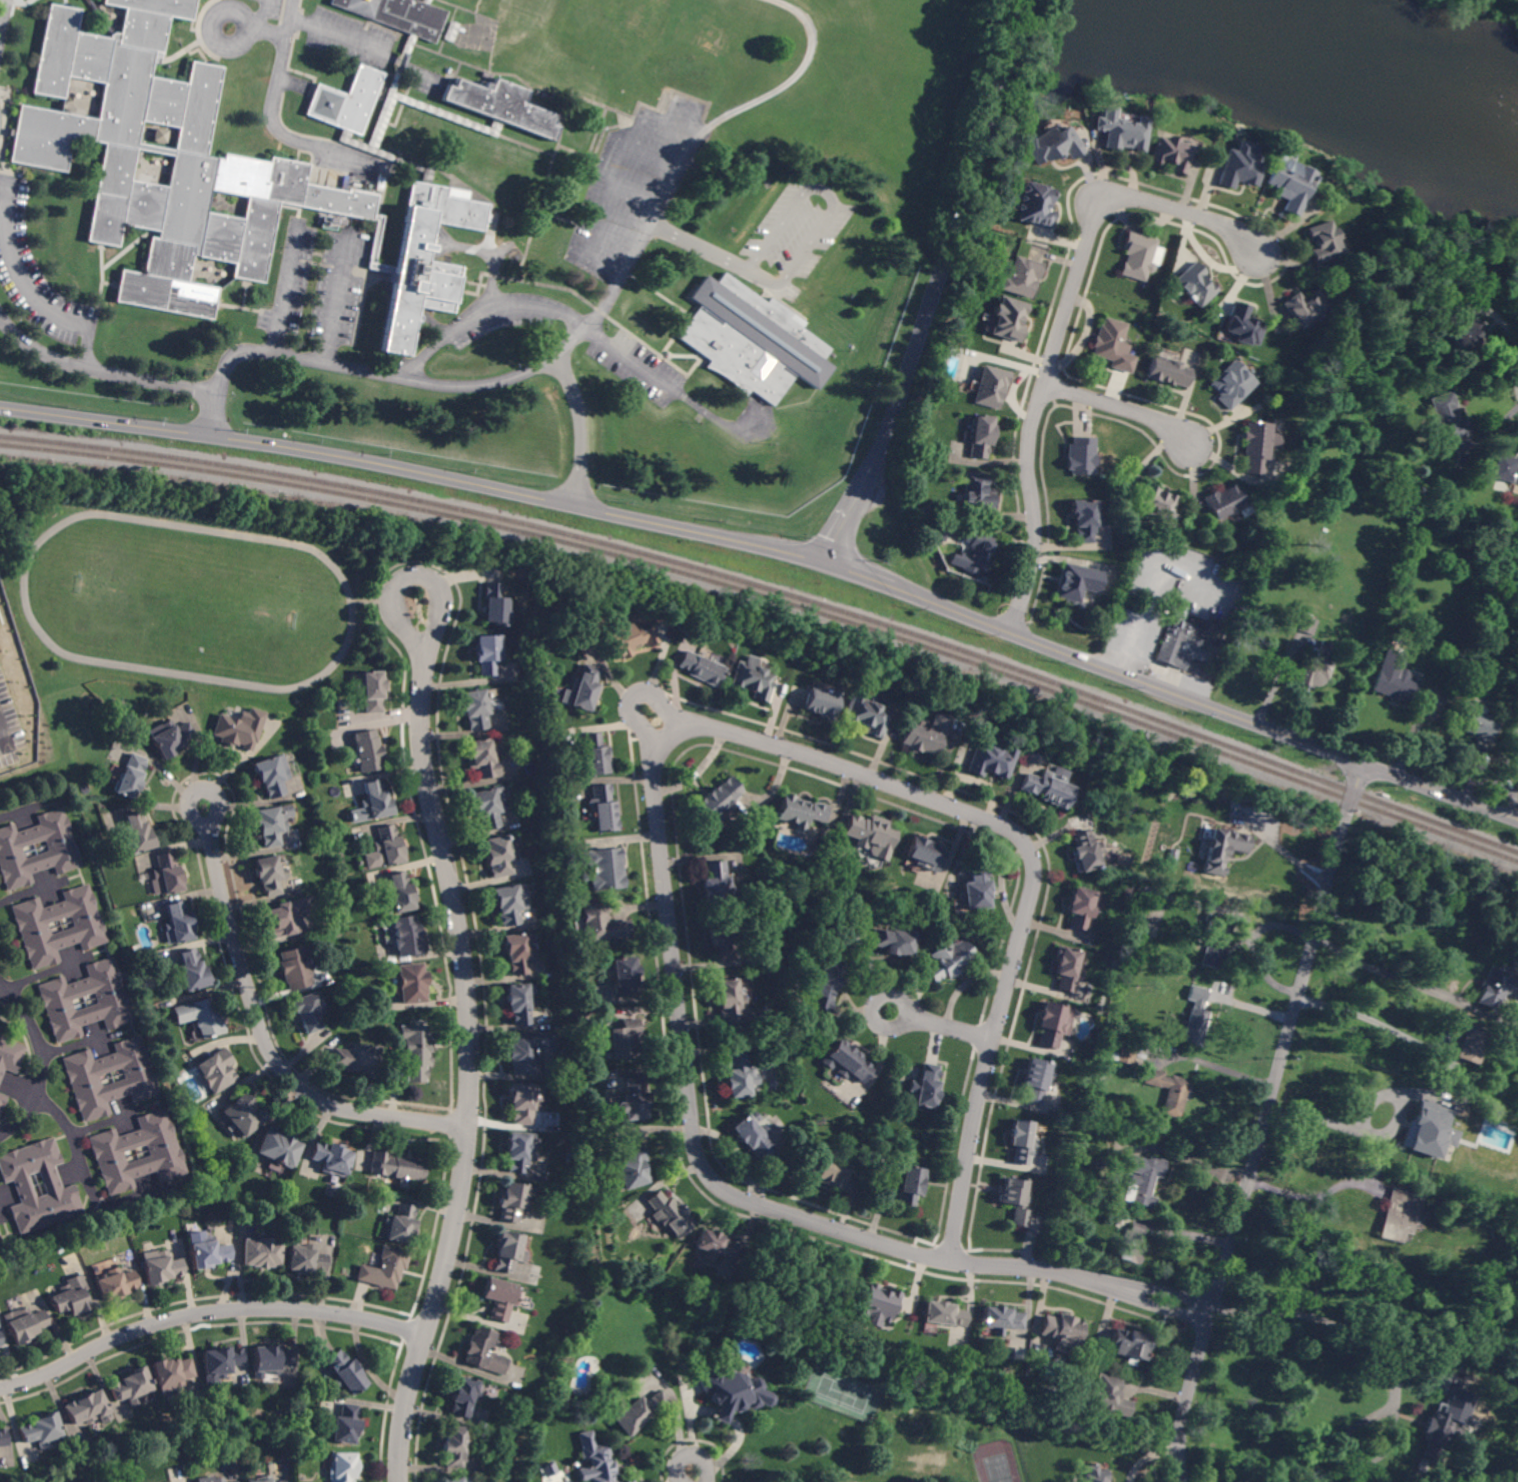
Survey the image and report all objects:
road: (1, 10)
parking lot: (4, 21)
road: (286, 26)
building: (450, 31)
road: (327, 33)
road: (277, 49)
road: (632, 131)
building: (1121, 131)
building: (158, 134)
building: (1052, 145)
building: (1171, 154)
building: (241, 158)
building: (1239, 165)
building: (1289, 185)
parking lot: (634, 189)
road: (815, 190)
building: (1037, 205)
road: (653, 224)
parking lot: (794, 232)
building: (1323, 241)
building: (1516, 245)
building: (1137, 257)
parking lot: (35, 277)
building: (1022, 277)
road: (934, 281)
parking lot: (316, 283)
building: (1194, 284)
road: (281, 290)
road: (333, 299)
building: (1305, 307)
road: (481, 313)
building: (1008, 319)
building: (1244, 326)
road: (75, 328)
road: (1059, 334)
building: (1470, 336)
building: (752, 340)
building: (1113, 345)
road: (36, 351)
building: (1168, 371)
road: (475, 384)
building: (1231, 385)
building: (990, 386)
road: (1123, 406)
building: (1447, 417)
road: (576, 425)
building: (980, 436)
building: (1257, 446)
building: (1080, 456)
building: (1505, 468)
building: (978, 493)
building: (1226, 502)
building: (1157, 504)
building: (1085, 519)
road: (696, 531)
building: (936, 535)
building: (972, 554)
building: (1078, 583)
railway: (773, 590)
railway: (773, 598)
building: (496, 602)
building: (1312, 612)
building: (1170, 617)
building: (1306, 625)
building: (627, 640)
building: (1180, 647)
building: (488, 653)
building: (1417, 665)
building: (700, 668)
building: (1316, 668)
building: (752, 678)
building: (1394, 678)
building: (583, 687)
building: (372, 691)
road: (634, 695)
building: (823, 702)
building: (475, 708)
building: (868, 714)
building: (1476, 722)
building: (239, 729)
road: (3, 733)
building: (926, 735)
building: (169, 737)
building: (1516, 749)
building: (368, 750)
building: (594, 755)
building: (482, 758)
building: (989, 760)
building: (271, 774)
building: (130, 776)
building: (1048, 789)
road: (1440, 792)
building: (375, 800)
building: (718, 800)
building: (489, 806)
building: (602, 808)
building: (800, 811)
road: (656, 812)
building: (268, 826)
building: (133, 834)
building: (870, 834)
building: (388, 846)
building: (61, 848)
building: (1226, 849)
building: (1086, 851)
road: (1286, 852)
building: (924, 853)
building: (499, 856)
building: (606, 868)
building: (166, 874)
building: (268, 874)
building: (583, 877)
building: (717, 885)
building: (976, 888)
road: (29, 892)
building: (399, 892)
building: (510, 903)
building: (1081, 908)
building: (288, 916)
building: (1153, 920)
building: (600, 922)
building: (176, 923)
building: (32, 925)
building: (406, 936)
building: (722, 938)
building: (1215, 939)
building: (894, 941)
building: (518, 953)
building: (949, 960)
building: (293, 968)
building: (1068, 969)
road: (1383, 970)
building: (189, 971)
building: (622, 974)
building: (824, 982)
building: (411, 983)
building: (1496, 988)
building: (62, 996)
building: (729, 1001)
building: (517, 1003)
building: (305, 1012)
building: (1071, 1013)
building: (199, 1017)
building: (1195, 1017)
road: (1370, 1021)
road: (942, 1024)
building: (1053, 1024)
road: (263, 1036)
building: (624, 1039)
road: (471, 1041)
building: (1465, 1041)
road: (75, 1046)
building: (414, 1051)
building: (529, 1051)
building: (1126, 1053)
building: (10, 1055)
building: (356, 1060)
road: (39, 1061)
building: (846, 1062)
road: (1215, 1068)
building: (215, 1070)
building: (738, 1076)
building: (84, 1077)
building: (1035, 1079)
building: (925, 1086)
road: (1343, 1088)
building: (1167, 1091)
building: (631, 1099)
building: (2, 1100)
building: (524, 1102)
building: (241, 1114)
road: (1263, 1121)
road: (104, 1122)
building: (1429, 1128)
building: (752, 1135)
road: (76, 1138)
building: (1021, 1141)
building: (1454, 1143)
building: (279, 1147)
building: (113, 1149)
building: (517, 1151)
building: (331, 1158)
building: (395, 1167)
building: (631, 1168)
building: (829, 1169)
building: (1142, 1177)
building: (52, 1186)
building: (910, 1186)
road: (1312, 1198)
building: (1014, 1199)
building: (515, 1200)
building: (669, 1214)
building: (1395, 1214)
building: (400, 1224)
building: (0, 1239)
building: (0, 1242)
building: (1129, 1245)
building: (716, 1246)
building: (509, 1251)
building: (208, 1253)
building: (262, 1253)
building: (306, 1259)
building: (160, 1267)
building: (385, 1268)
building: (114, 1284)
building: (70, 1296)
building: (500, 1298)
building: (879, 1302)
road: (207, 1312)
building: (944, 1314)
road: (1315, 1316)
building: (1001, 1320)
building: (744, 1323)
building: (24, 1324)
building: (1061, 1331)
building: (1128, 1344)
building: (0, 1347)
building: (791, 1351)
building: (483, 1352)
building: (270, 1360)
building: (221, 1361)
building: (346, 1372)
building: (171, 1373)
building: (130, 1386)
building: (729, 1391)
building: (463, 1395)
building: (1109, 1396)
building: (85, 1409)
building: (638, 1411)
building: (344, 1425)
building: (38, 1430)
building: (1440, 1432)
building: (2, 1438)
building: (456, 1446)
road: (1148, 1456)
building: (596, 1461)
building: (343, 1467)
building: (549, 1470)
building: (1095, 1474)
road: (697, 1476)
building: (208, 1479)
building: (263, 1479)
building: (459, 1479)
building: (232, 1481)
building: (279, 1481)

